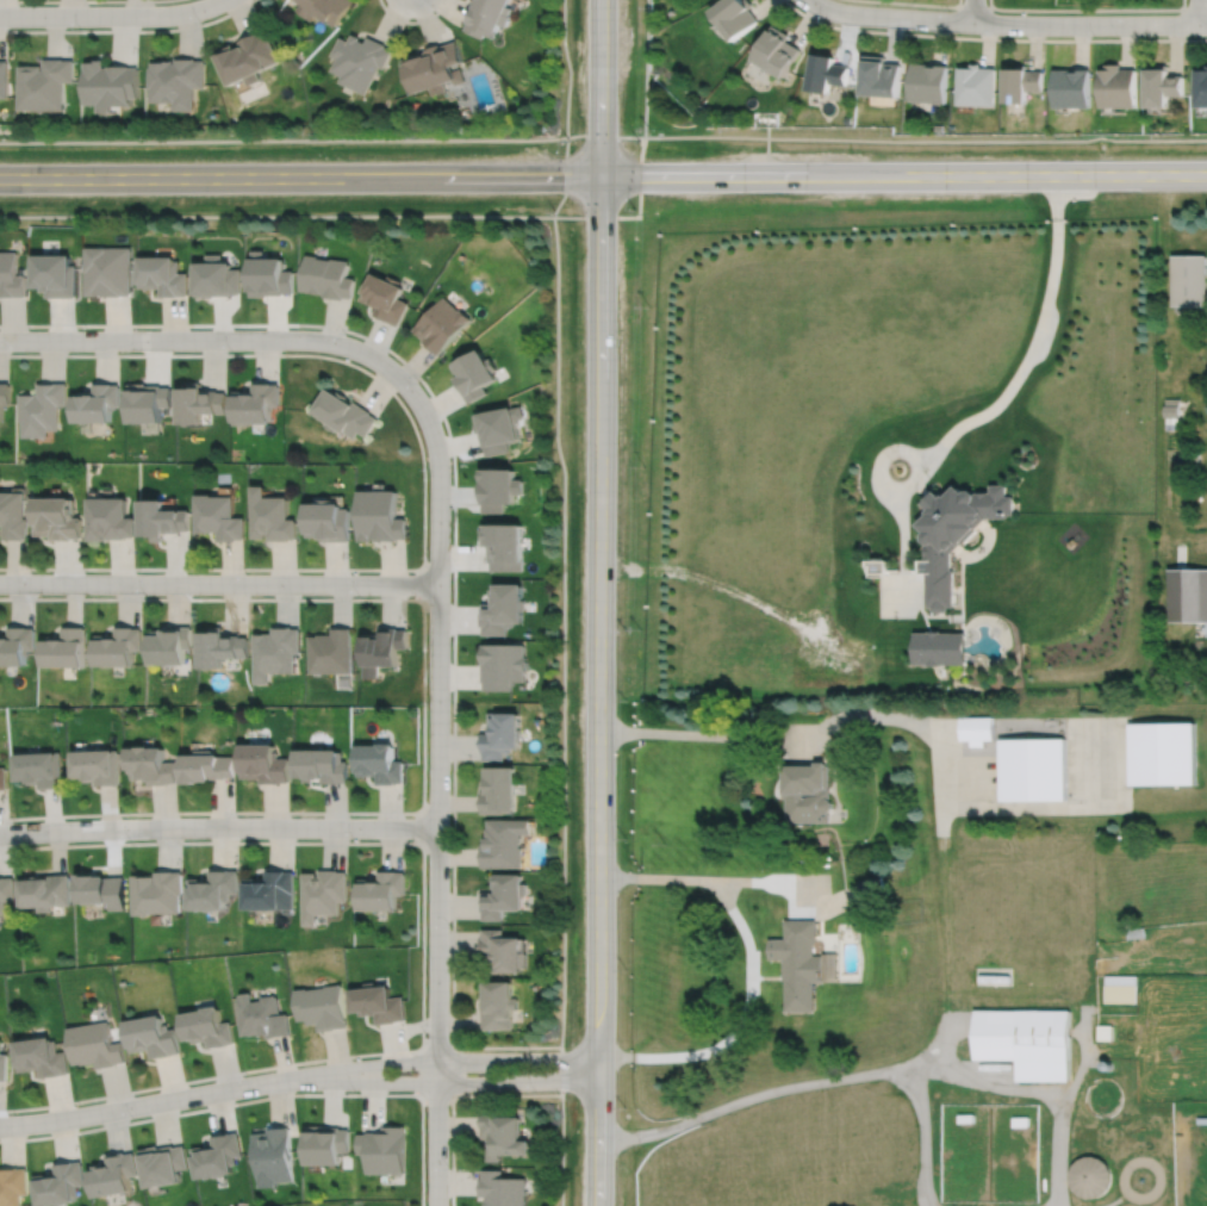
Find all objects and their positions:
road: (54, 0)
road: (919, 4)
building: (325, 7)
road: (975, 7)
road: (1195, 8)
road: (1088, 10)
road: (972, 11)
road: (1197, 11)
road: (111, 14)
building: (734, 14)
building: (487, 15)
road: (411, 20)
road: (1006, 23)
road: (126, 29)
road: (993, 37)
building: (777, 49)
building: (249, 56)
building: (361, 58)
building: (435, 66)
road: (568, 67)
building: (827, 70)
building: (879, 75)
building: (4, 77)
building: (178, 80)
building: (927, 81)
building: (1020, 81)
building: (45, 82)
building: (111, 83)
building: (975, 83)
building: (1163, 85)
building: (1116, 86)
building: (1201, 86)
building: (1071, 87)
building: (701, 107)
building: (848, 118)
building: (938, 128)
road: (604, 133)
road: (282, 138)
street lamp: (570, 139)
street lamp: (640, 139)
road: (926, 139)
road: (641, 149)
road: (603, 174)
road: (565, 175)
street lamp: (635, 209)
street lamp: (558, 212)
road: (276, 213)
building: (107, 271)
building: (55, 274)
building: (269, 274)
building: (10, 275)
building: (162, 275)
building: (217, 276)
building: (326, 276)
building: (1189, 280)
building: (384, 296)
building: (441, 324)
road: (211, 338)
building: (474, 374)
building: (4, 396)
building: (198, 403)
building: (95, 404)
building: (147, 404)
building: (255, 404)
road: (995, 406)
building: (1172, 408)
building: (41, 409)
building: (346, 414)
building: (497, 428)
building: (1193, 456)
road: (883, 458)
road: (424, 485)
building: (498, 489)
building: (13, 516)
building: (272, 516)
building: (379, 516)
building: (219, 517)
building: (57, 520)
building: (110, 520)
building: (163, 521)
building: (329, 521)
building: (953, 534)
road: (453, 542)
building: (503, 546)
building: (876, 565)
road: (218, 583)
road: (423, 583)
building: (1188, 592)
road: (599, 603)
building: (502, 605)
road: (562, 629)
building: (170, 642)
building: (15, 644)
building: (118, 645)
building: (220, 645)
building: (939, 645)
building: (66, 646)
building: (380, 647)
building: (276, 649)
building: (329, 649)
building: (502, 664)
road: (423, 705)
building: (976, 727)
building: (500, 733)
road: (809, 733)
building: (1163, 751)
building: (266, 761)
building: (378, 761)
building: (153, 763)
building: (98, 764)
building: (323, 764)
building: (209, 765)
building: (41, 766)
building: (1033, 766)
building: (2, 776)
building: (498, 789)
building: (807, 791)
road: (437, 792)
road: (1002, 808)
road: (941, 819)
road: (218, 826)
road: (423, 827)
building: (503, 841)
road: (658, 876)
crop: (1150, 881)
road: (759, 882)
road: (815, 884)
building: (871, 887)
building: (102, 889)
building: (214, 889)
building: (272, 890)
building: (380, 890)
building: (6, 891)
building: (46, 891)
building: (158, 891)
building: (324, 894)
building: (502, 895)
road: (802, 896)
road: (830, 906)
building: (158, 919)
road: (945, 920)
building: (1137, 932)
road: (422, 946)
building: (502, 950)
building: (798, 962)
building: (830, 966)
building: (1121, 988)
building: (377, 1003)
building: (498, 1005)
building: (323, 1006)
building: (265, 1017)
road: (738, 1022)
building: (210, 1027)
building: (1105, 1031)
street lamp: (425, 1032)
building: (154, 1036)
road: (435, 1039)
building: (1026, 1040)
building: (97, 1045)
street lamp: (528, 1049)
building: (42, 1057)
road: (463, 1058)
building: (4, 1064)
building: (1108, 1064)
road: (422, 1070)
road: (459, 1070)
road: (561, 1070)
road: (465, 1082)
road: (995, 1083)
road: (785, 1087)
street lamp: (535, 1090)
road: (436, 1094)
road: (452, 1095)
road: (265, 1096)
road: (166, 1099)
road: (1062, 1105)
building: (965, 1117)
building: (1202, 1119)
building: (1020, 1120)
road: (923, 1134)
building: (503, 1136)
building: (328, 1145)
building: (384, 1150)
road: (561, 1150)
building: (218, 1156)
building: (275, 1156)
building: (164, 1165)
street lamp: (448, 1167)
building: (114, 1175)
building: (1090, 1176)
building: (60, 1185)
building: (12, 1186)
building: (502, 1189)

